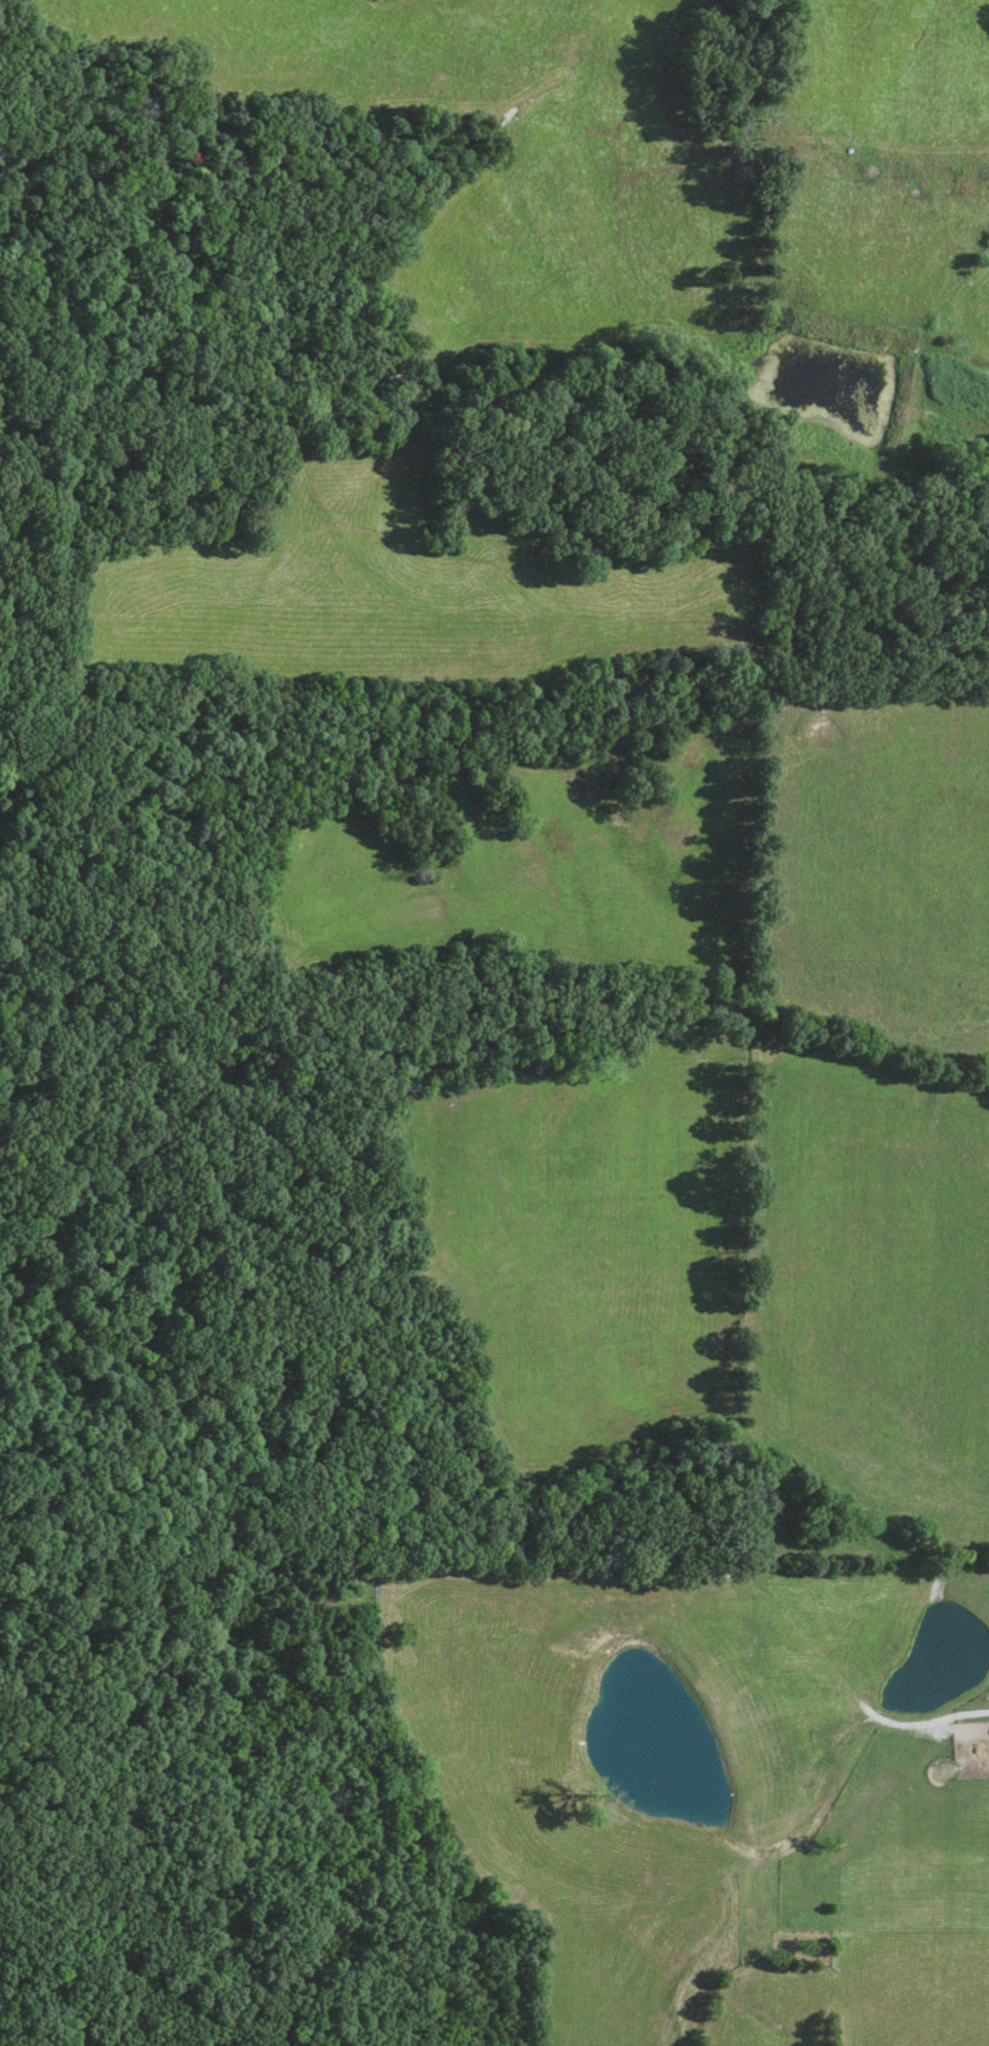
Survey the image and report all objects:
road: (981, 1712)
park: (801, 1948)

